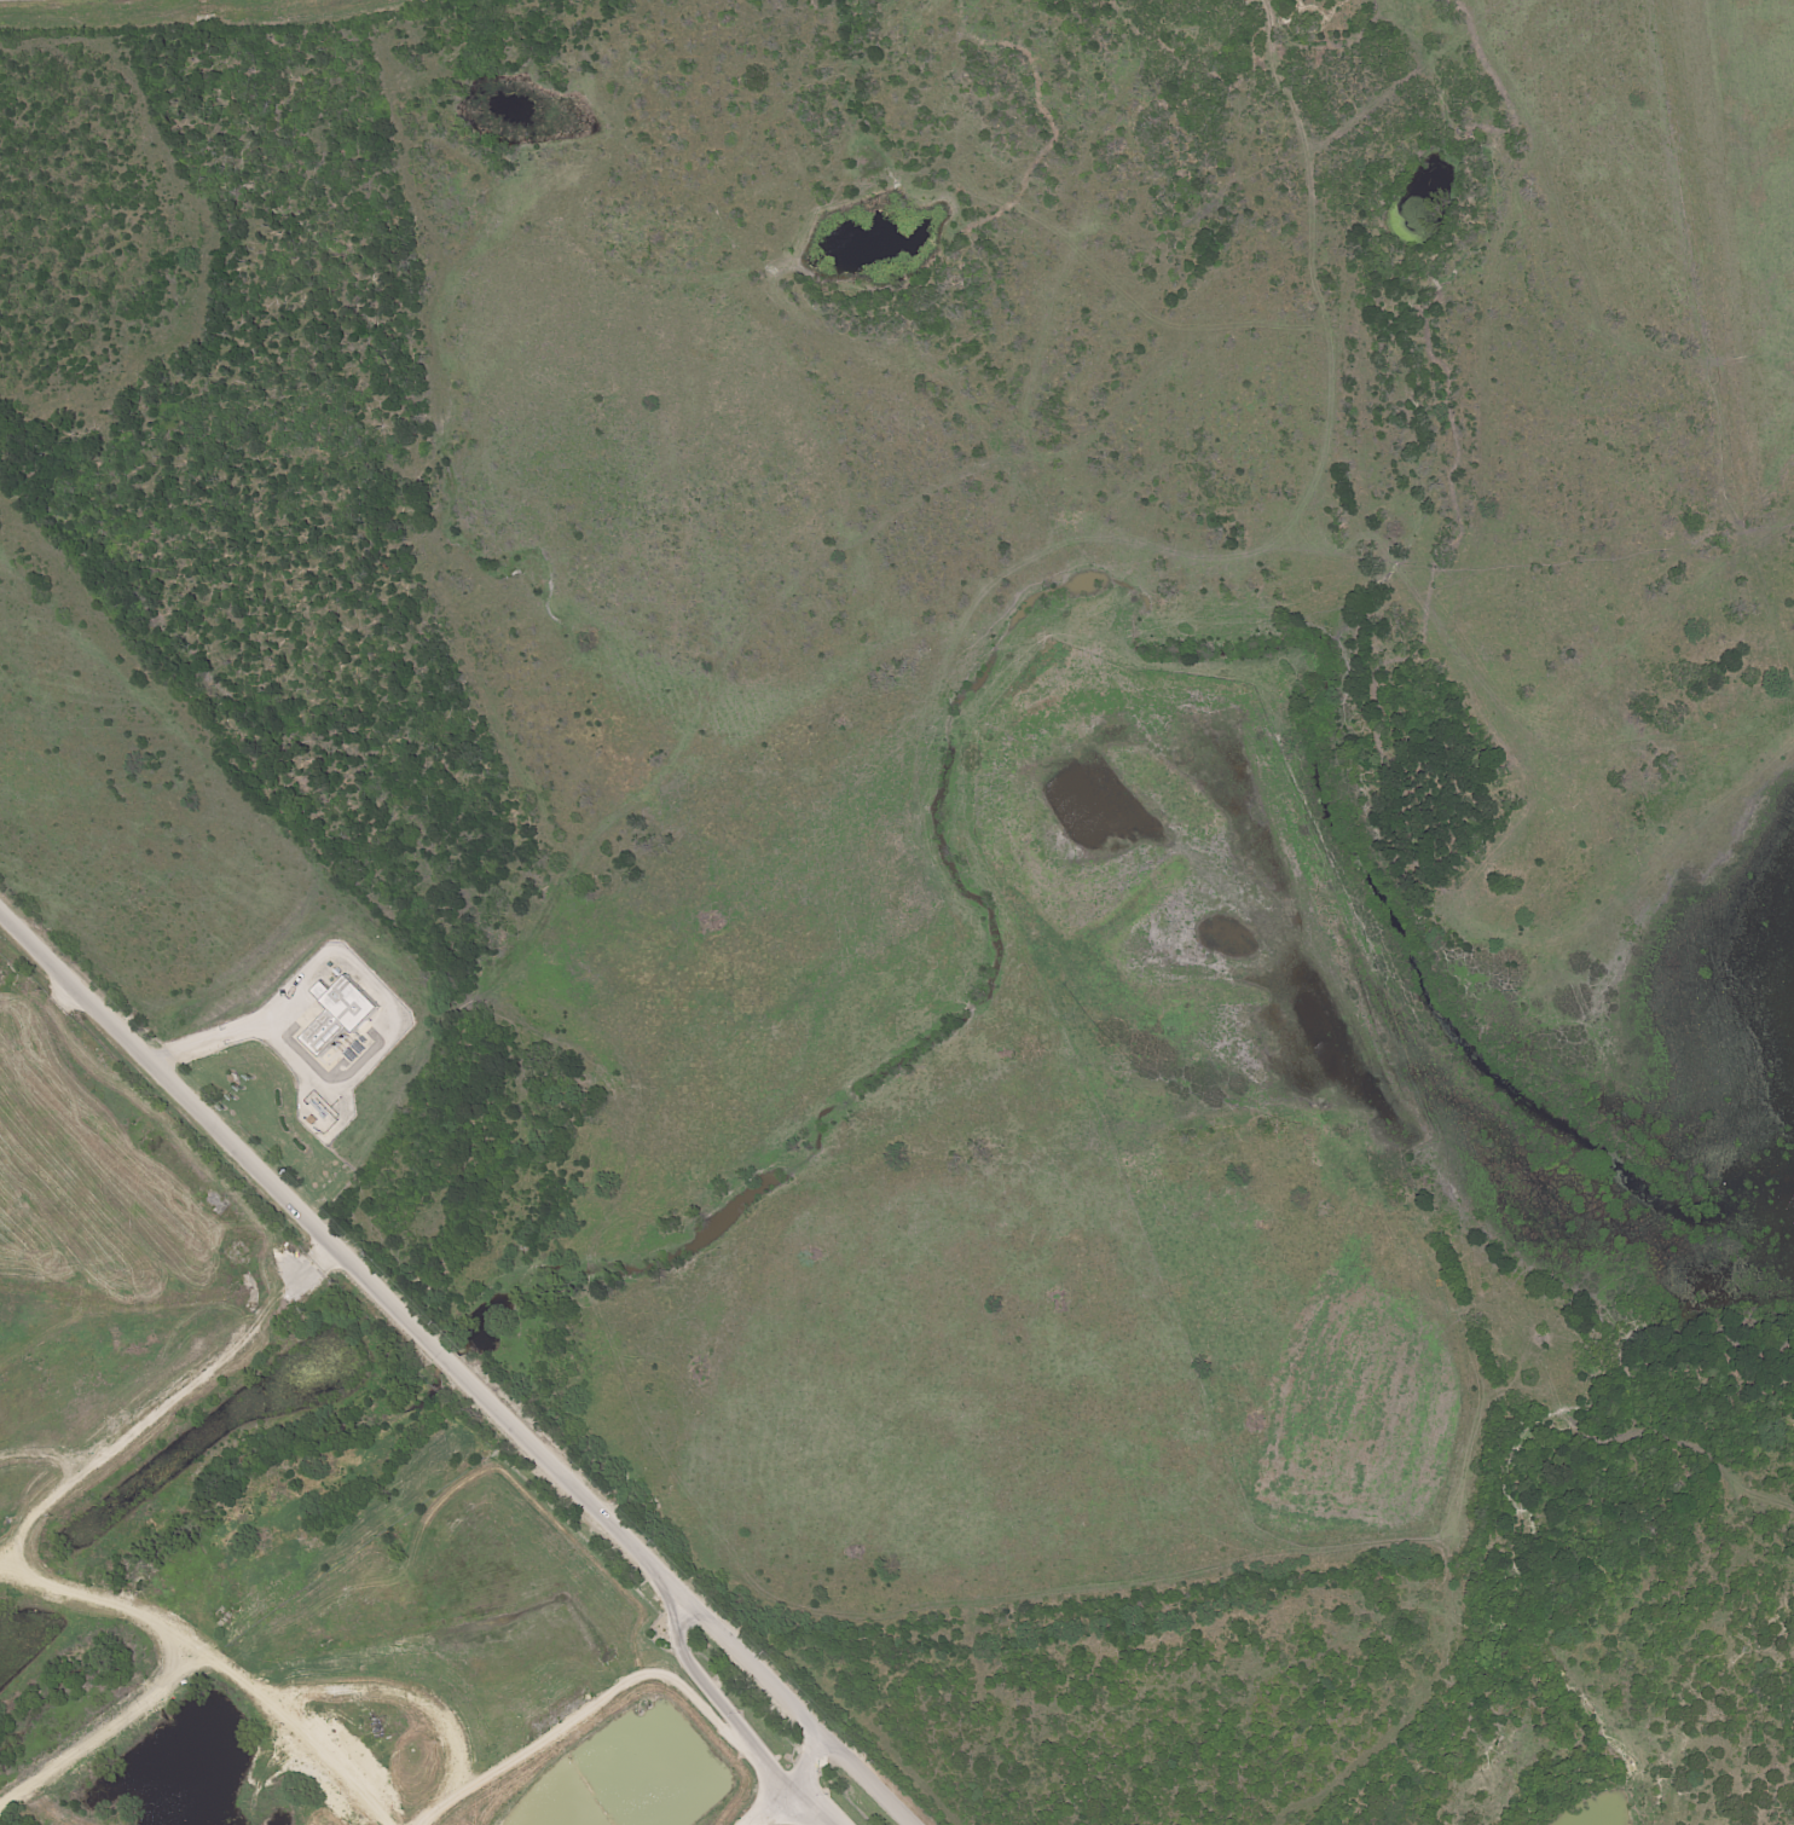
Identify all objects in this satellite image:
building: (342, 1001)
road: (247, 1030)
building: (317, 1032)
road: (412, 1326)
landfill: (289, 1536)
road: (608, 1692)
road: (806, 1766)
road: (868, 1781)
road: (771, 1809)
road: (804, 1809)

